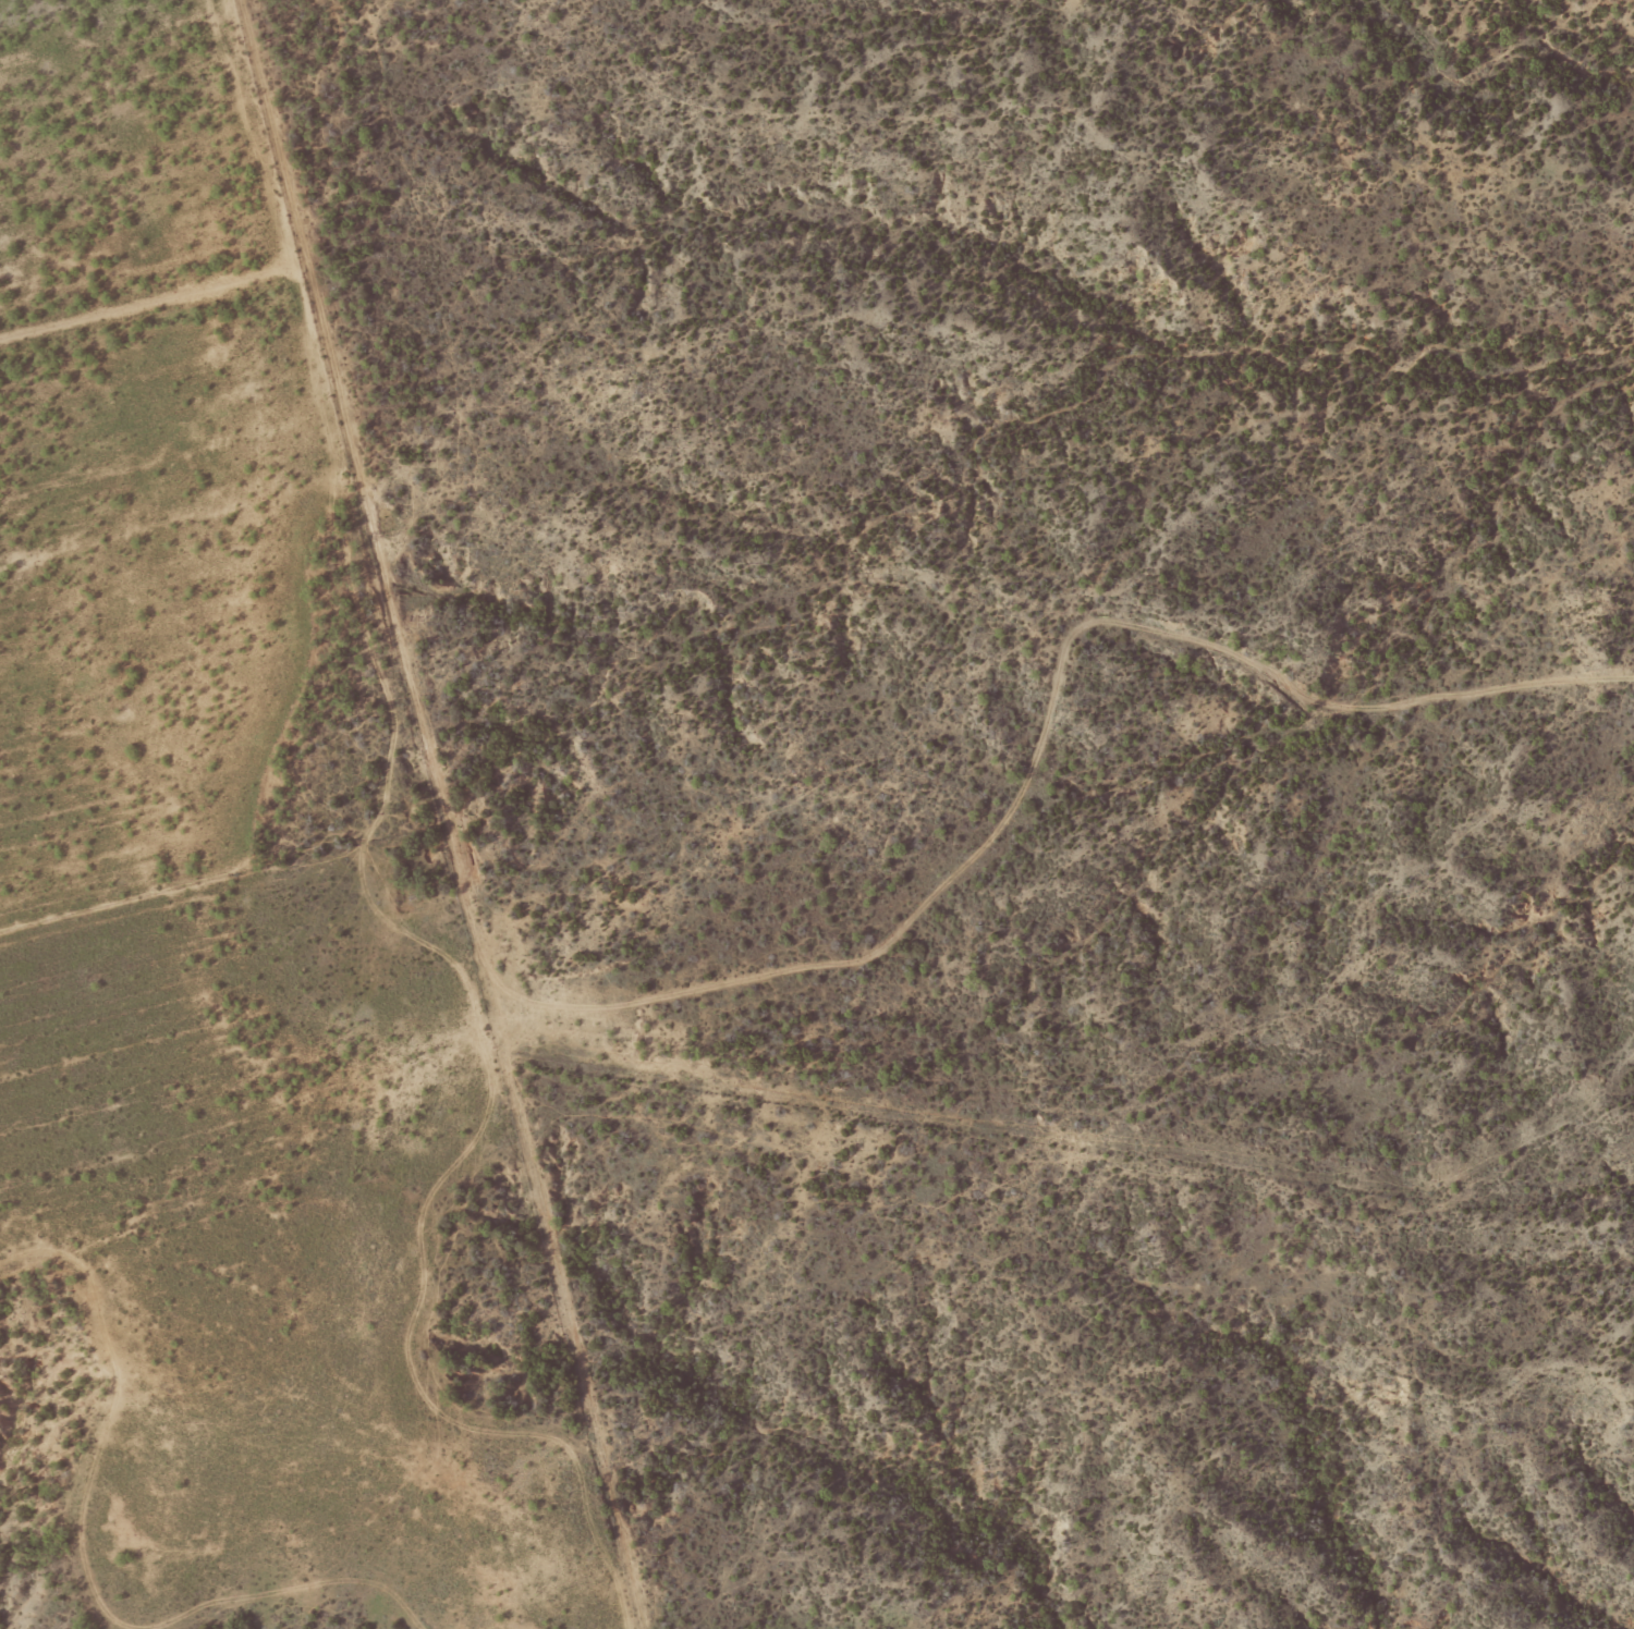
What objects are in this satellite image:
road: (89, 20)
road: (60, 1422)

